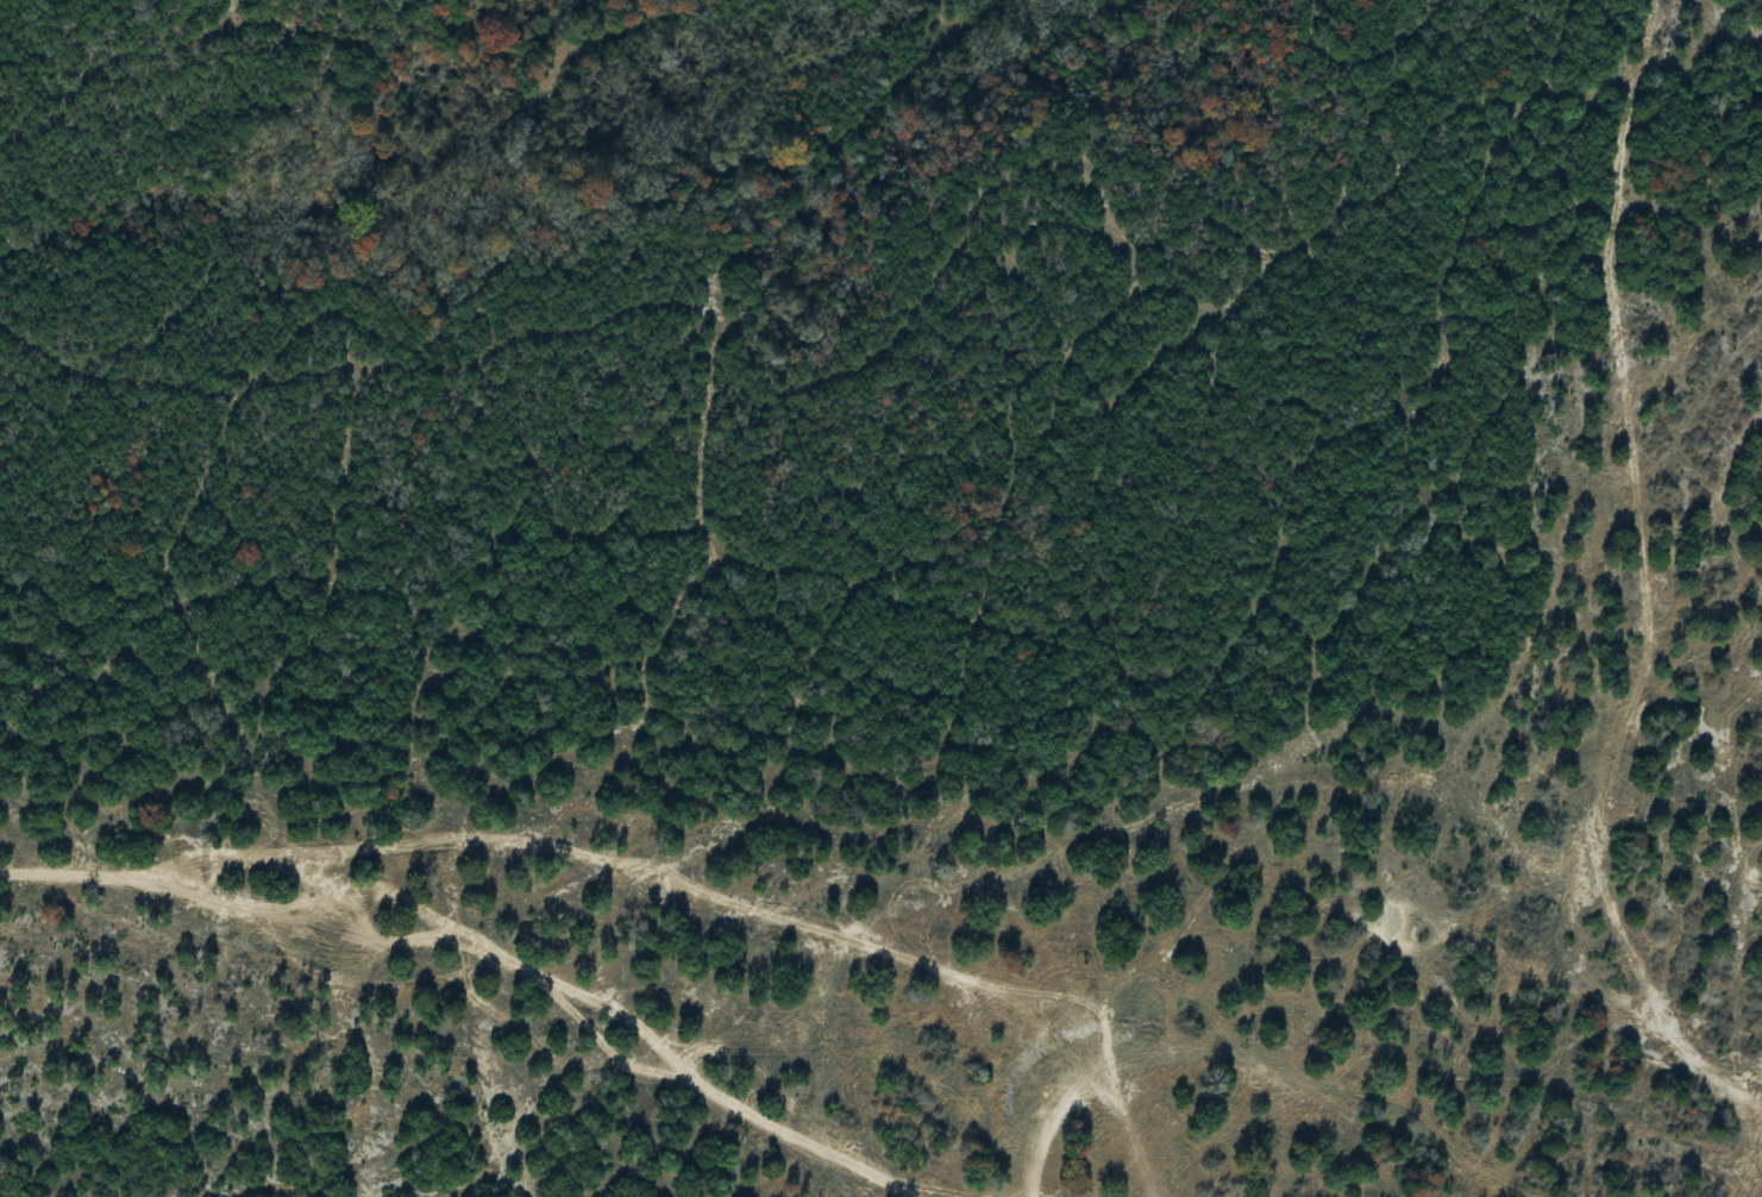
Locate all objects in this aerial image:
road: (484, 952)

